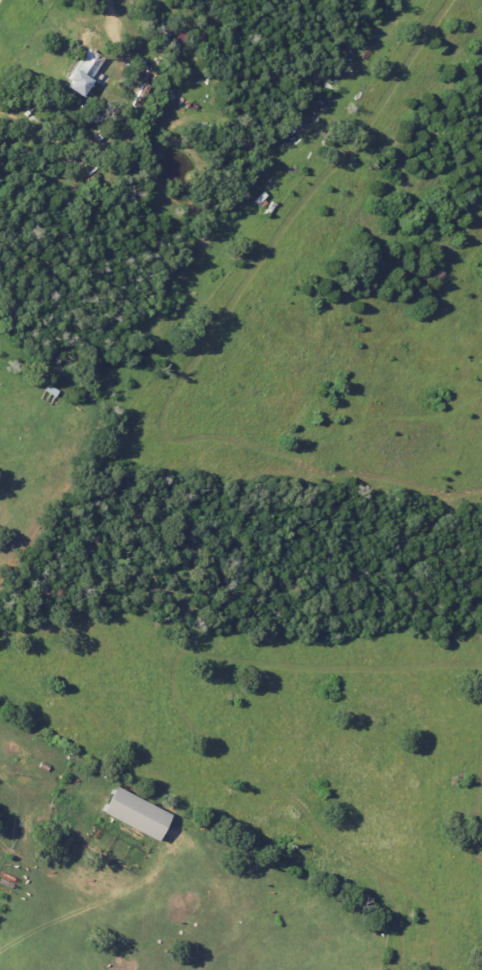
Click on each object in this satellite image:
road: (106, 13)
building: (174, 31)
building: (82, 72)
building: (133, 814)

